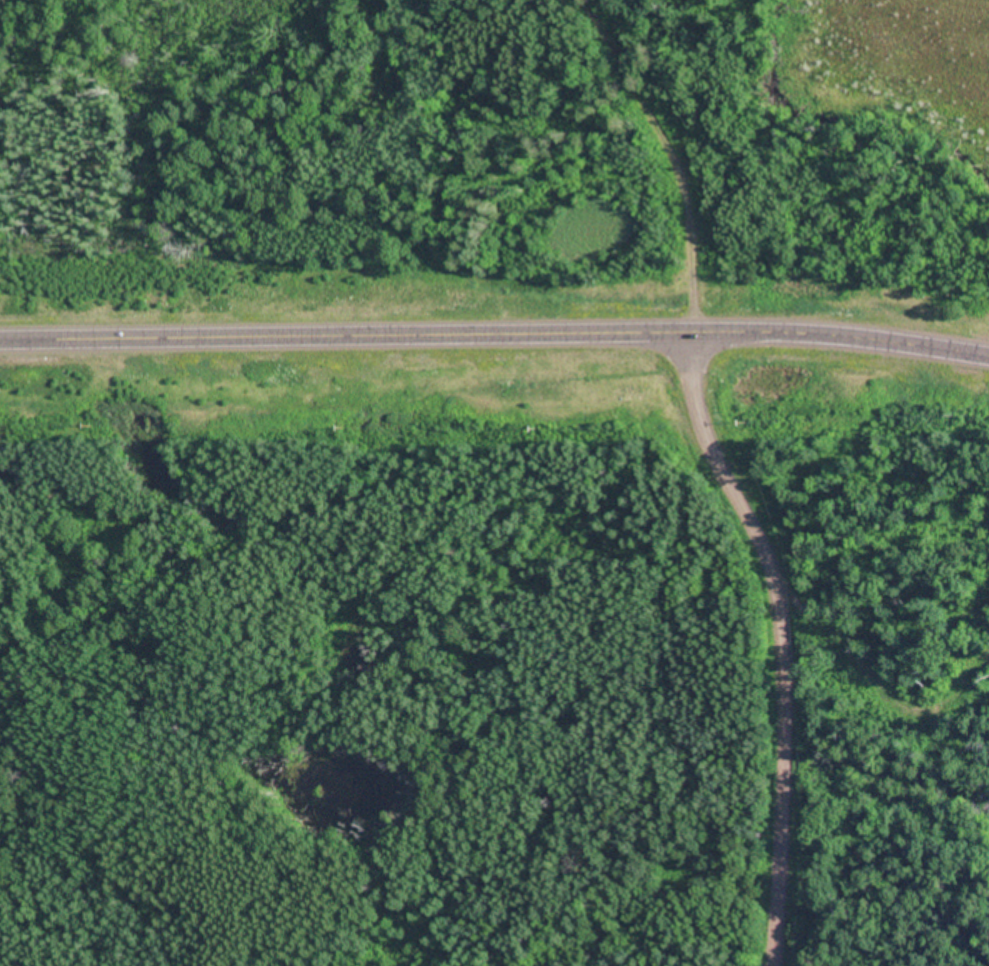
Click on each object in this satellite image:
road: (494, 335)
road: (778, 631)

